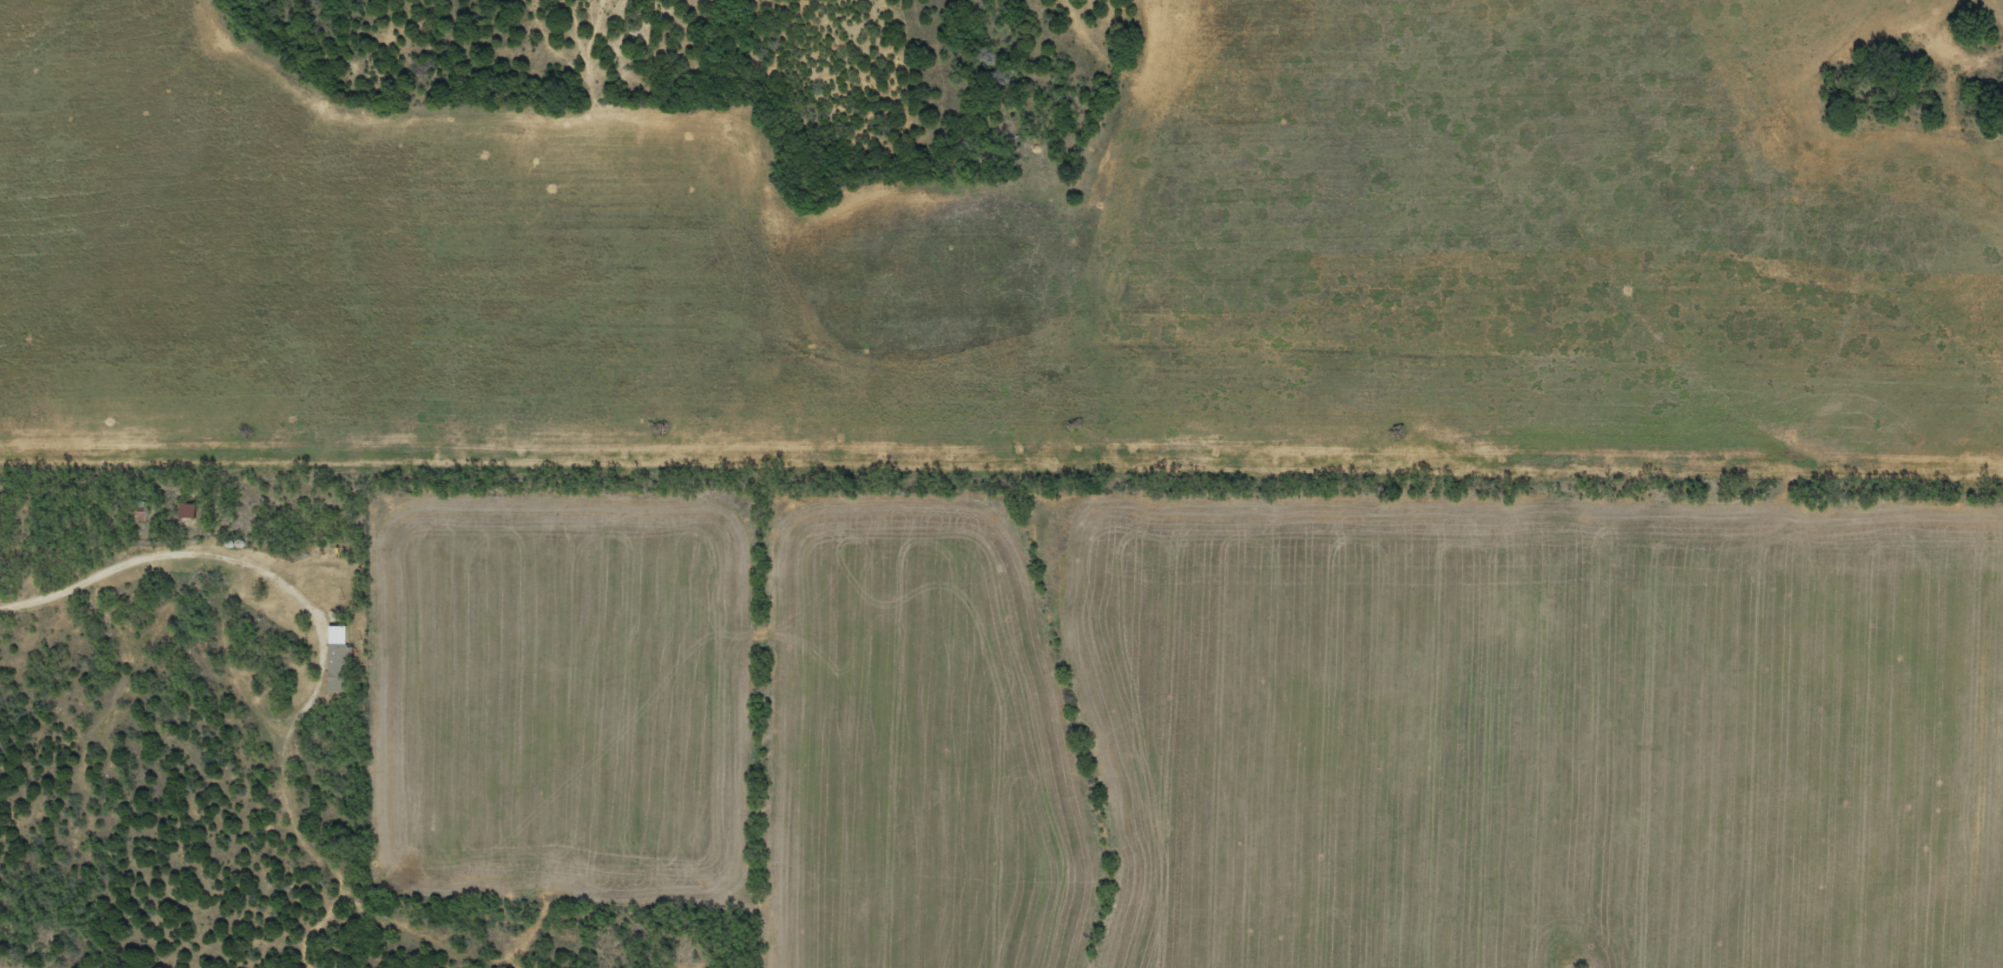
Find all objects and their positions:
building: (138, 510)
building: (186, 511)
road: (101, 565)
building: (336, 659)

